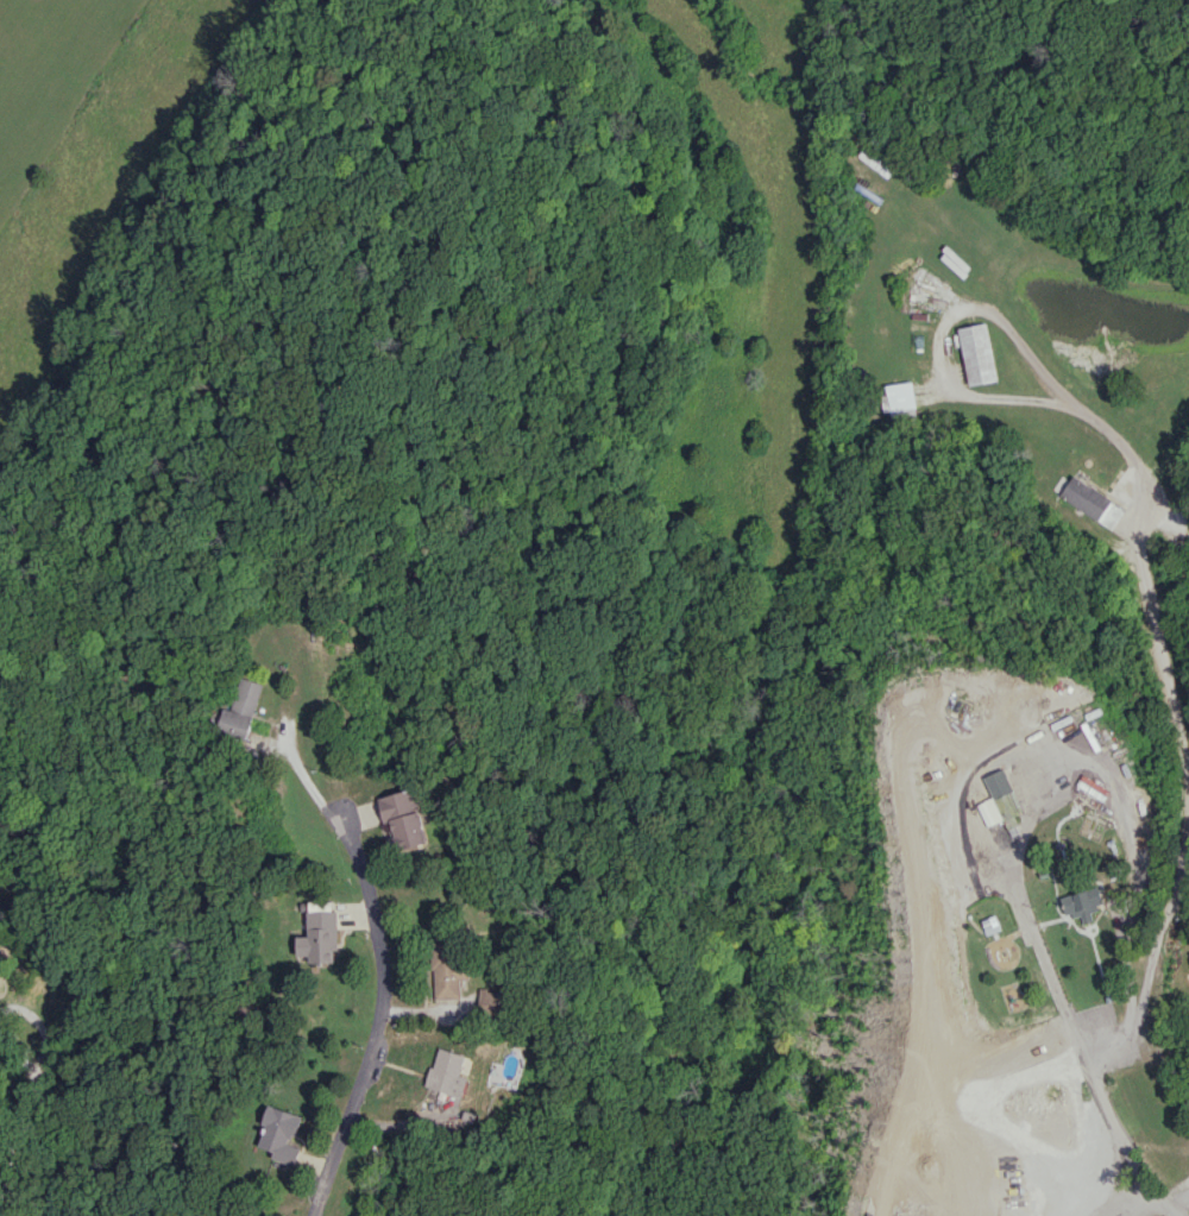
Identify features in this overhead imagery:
building: (976, 353)
building: (899, 399)
building: (1092, 502)
road: (1137, 537)
building: (240, 708)
building: (998, 799)
building: (405, 818)
building: (1082, 903)
building: (317, 937)
building: (448, 969)
road: (375, 970)
building: (495, 1001)
road: (1072, 1019)
building: (449, 1072)
road: (24, 1126)
building: (279, 1134)
road: (1144, 1203)

